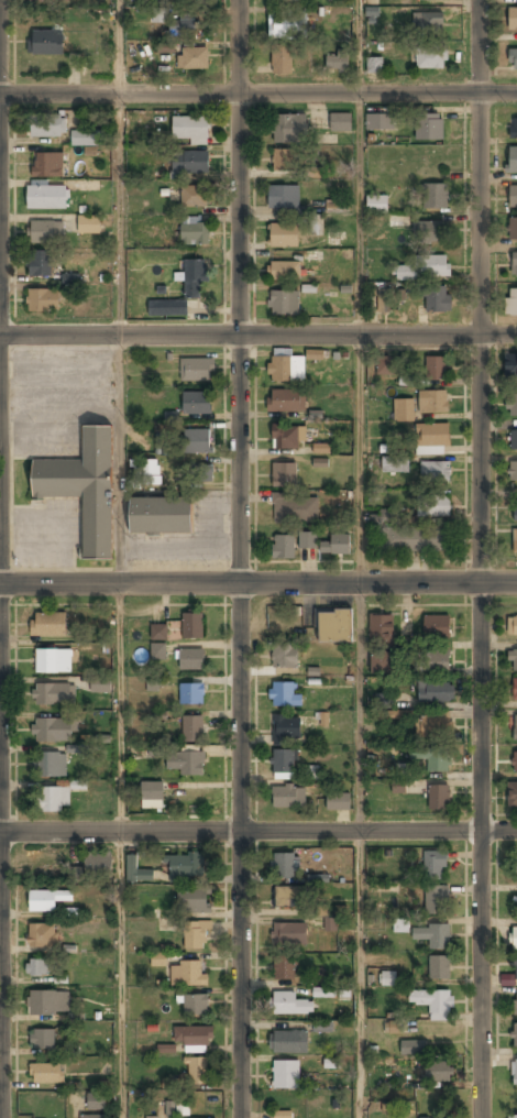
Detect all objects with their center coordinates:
building: (286, 0)
building: (45, 1)
building: (158, 15)
building: (372, 15)
building: (513, 19)
building: (427, 21)
building: (182, 24)
building: (287, 25)
building: (46, 43)
road: (119, 44)
road: (360, 45)
building: (165, 48)
building: (193, 58)
building: (282, 58)
building: (431, 58)
building: (513, 58)
building: (338, 59)
building: (374, 65)
road: (257, 90)
building: (380, 121)
building: (340, 122)
building: (46, 127)
building: (429, 127)
building: (514, 127)
building: (288, 128)
building: (190, 129)
building: (84, 138)
building: (512, 160)
building: (283, 161)
building: (189, 162)
building: (47, 165)
building: (193, 196)
building: (435, 196)
building: (46, 197)
building: (283, 197)
building: (513, 197)
building: (377, 204)
building: (337, 205)
building: (88, 224)
building: (315, 224)
building: (513, 229)
building: (430, 230)
building: (45, 231)
building: (194, 233)
building: (283, 234)
building: (38, 263)
building: (514, 264)
building: (426, 267)
building: (284, 270)
building: (193, 278)
building: (69, 279)
building: (388, 298)
building: (42, 299)
building: (437, 299)
building: (512, 302)
building: (283, 303)
building: (168, 307)
road: (257, 335)
road: (120, 336)
road: (361, 336)
building: (313, 354)
building: (510, 365)
building: (285, 366)
building: (385, 366)
building: (197, 369)
building: (436, 369)
building: (286, 399)
building: (196, 402)
building: (432, 402)
building: (512, 404)
building: (403, 409)
building: (288, 436)
building: (431, 438)
building: (197, 440)
building: (514, 440)
building: (320, 448)
building: (394, 465)
building: (435, 471)
building: (513, 471)
building: (144, 473)
building: (201, 473)
building: (284, 474)
building: (84, 487)
building: (432, 505)
building: (295, 508)
building: (515, 509)
building: (161, 515)
building: (307, 539)
building: (415, 539)
building: (515, 541)
building: (337, 544)
building: (283, 546)
road: (240, 558)
road: (481, 558)
road: (258, 583)
building: (279, 614)
building: (48, 624)
building: (512, 625)
building: (333, 626)
building: (436, 626)
building: (179, 627)
building: (382, 643)
building: (158, 650)
building: (284, 656)
building: (191, 659)
building: (53, 660)
building: (432, 660)
building: (513, 660)
building: (100, 683)
building: (515, 689)
building: (435, 691)
building: (190, 693)
building: (53, 694)
building: (283, 694)
building: (382, 701)
road: (0, 709)
building: (431, 725)
building: (515, 727)
building: (191, 728)
building: (284, 728)
building: (53, 730)
building: (432, 758)
building: (515, 761)
building: (185, 763)
building: (283, 764)
building: (52, 765)
building: (311, 772)
building: (152, 794)
building: (513, 794)
building: (288, 796)
building: (55, 798)
building: (438, 798)
building: (338, 801)
road: (257, 830)
road: (360, 850)
road: (121, 851)
building: (516, 862)
building: (436, 864)
building: (285, 866)
building: (98, 867)
building: (186, 867)
building: (136, 872)
building: (75, 875)
building: (317, 878)
building: (287, 896)
building: (47, 898)
building: (436, 899)
building: (195, 900)
building: (328, 923)
building: (400, 924)
building: (42, 934)
building: (289, 934)
building: (195, 935)
building: (433, 935)
building: (514, 938)
building: (158, 960)
building: (438, 966)
building: (37, 967)
building: (515, 967)
building: (285, 968)
building: (187, 974)
building: (387, 978)
building: (322, 991)
building: (435, 1001)
building: (47, 1002)
building: (515, 1004)
building: (196, 1005)
building: (289, 1005)
building: (393, 1027)
building: (514, 1034)
building: (193, 1035)
building: (42, 1040)
building: (288, 1042)
building: (413, 1048)
building: (166, 1049)
building: (196, 1068)
building: (514, 1071)
building: (439, 1072)
building: (46, 1073)
building: (286, 1075)
building: (96, 1100)
building: (173, 1109)
building: (283, 1114)
building: (512, 1116)
building: (92, 1117)
building: (152, 1117)
building: (424, 1117)

